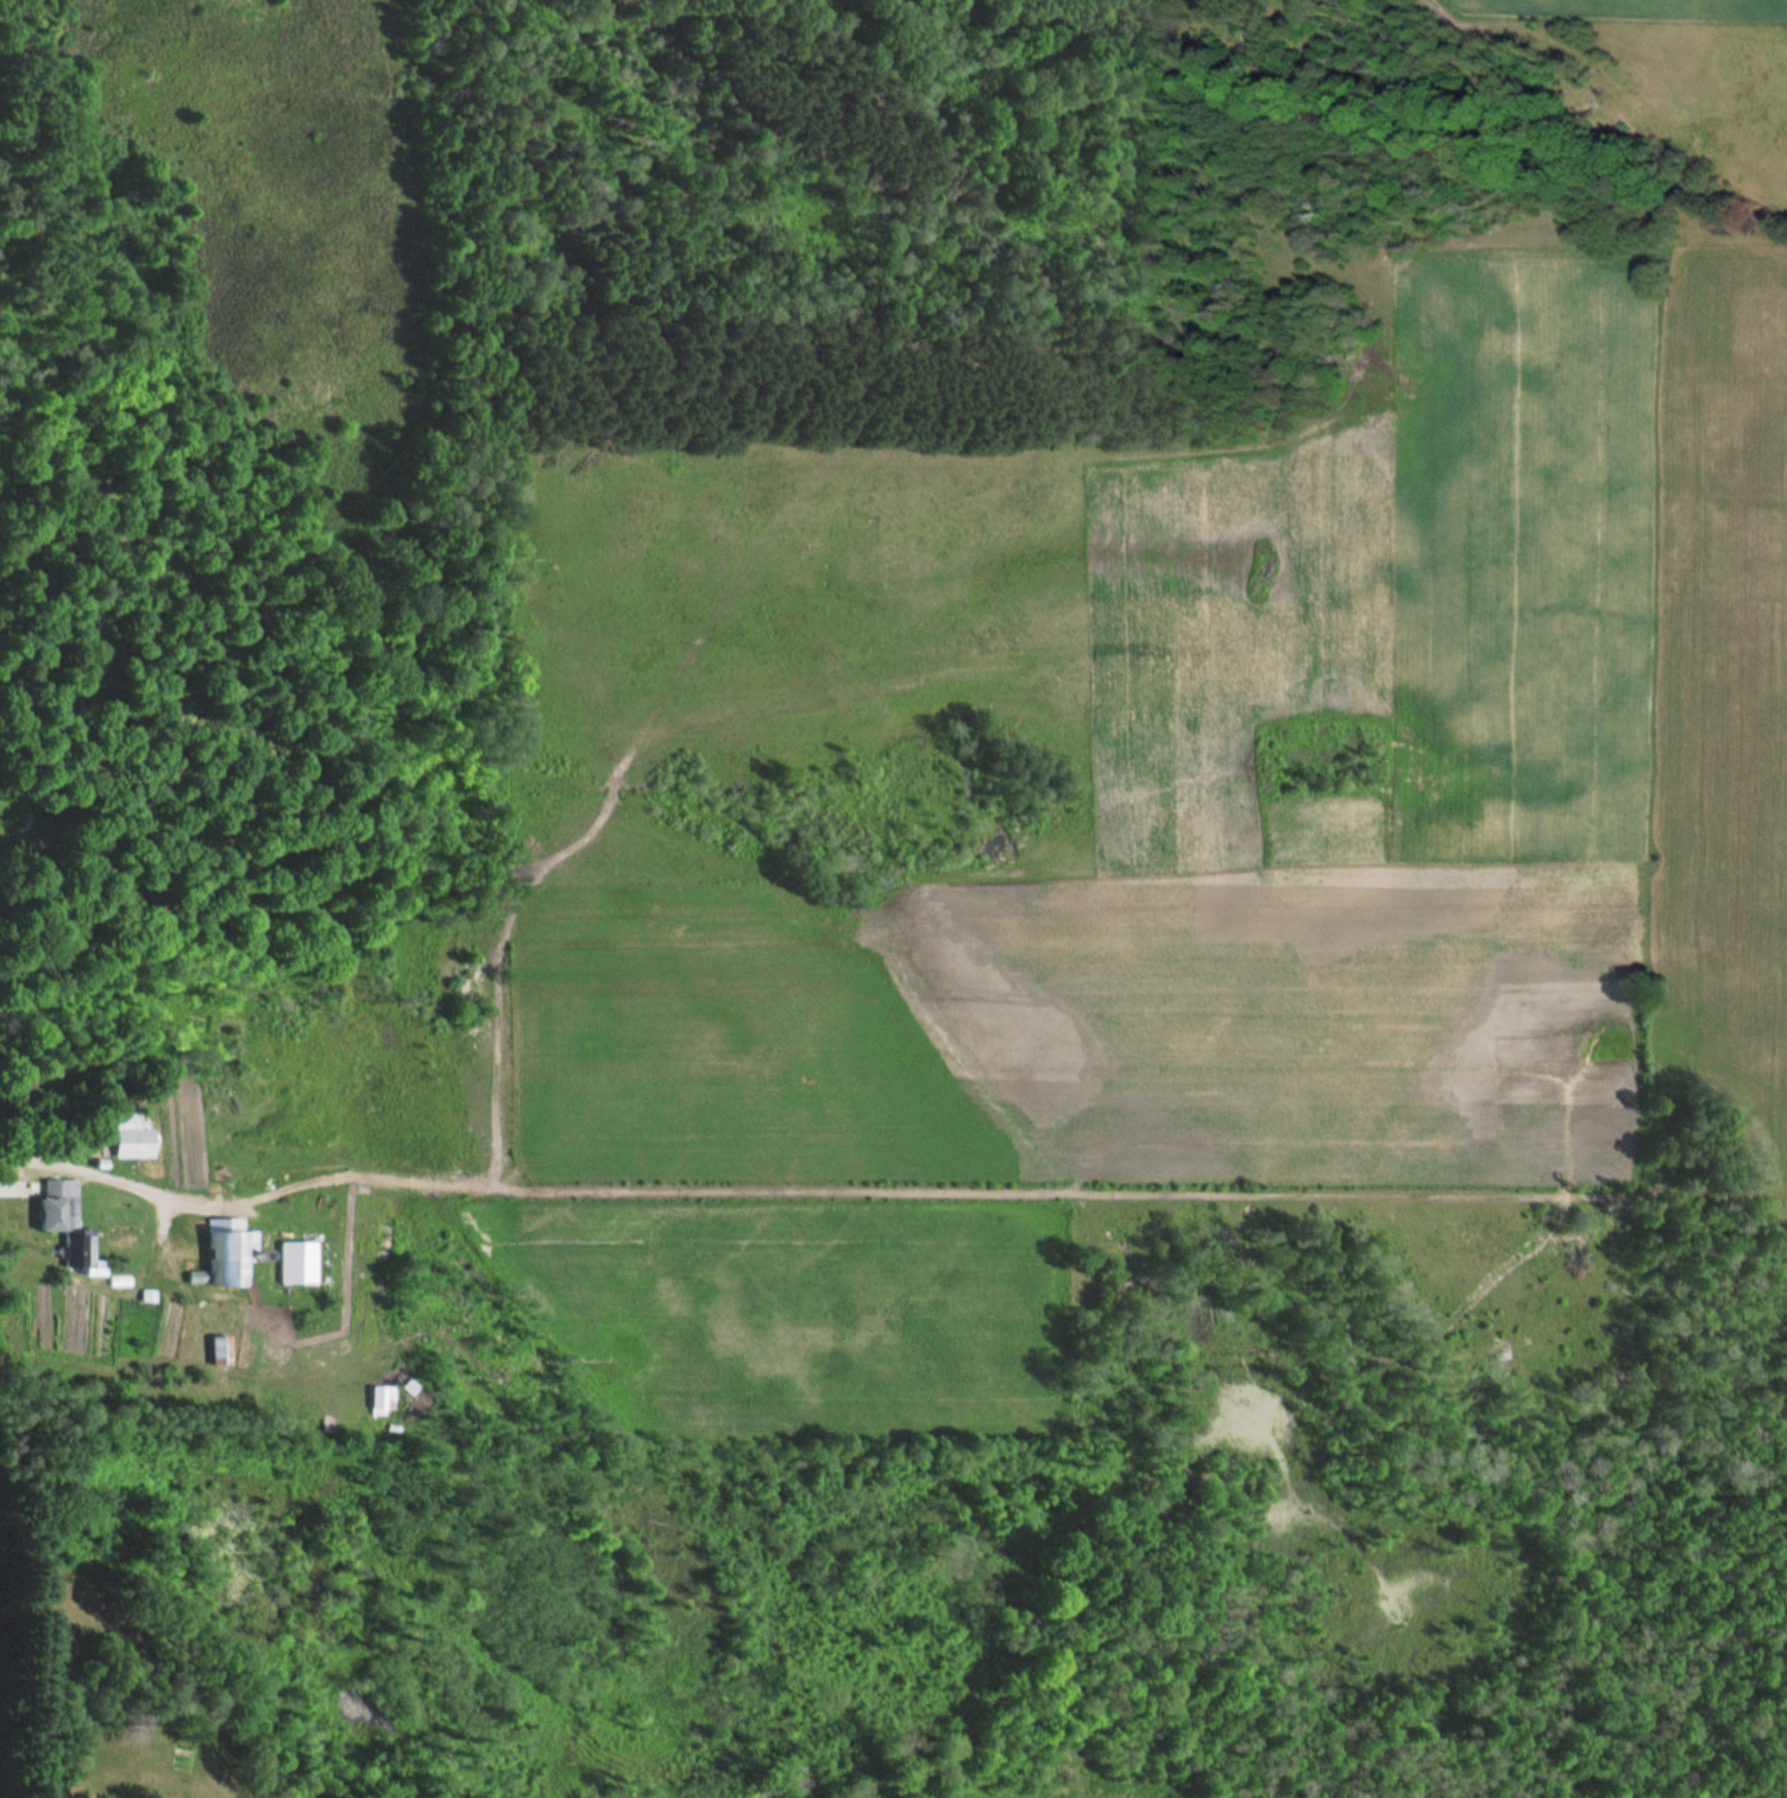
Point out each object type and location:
building: (127, 1121)
building: (51, 1211)
building: (227, 1258)
building: (302, 1261)

